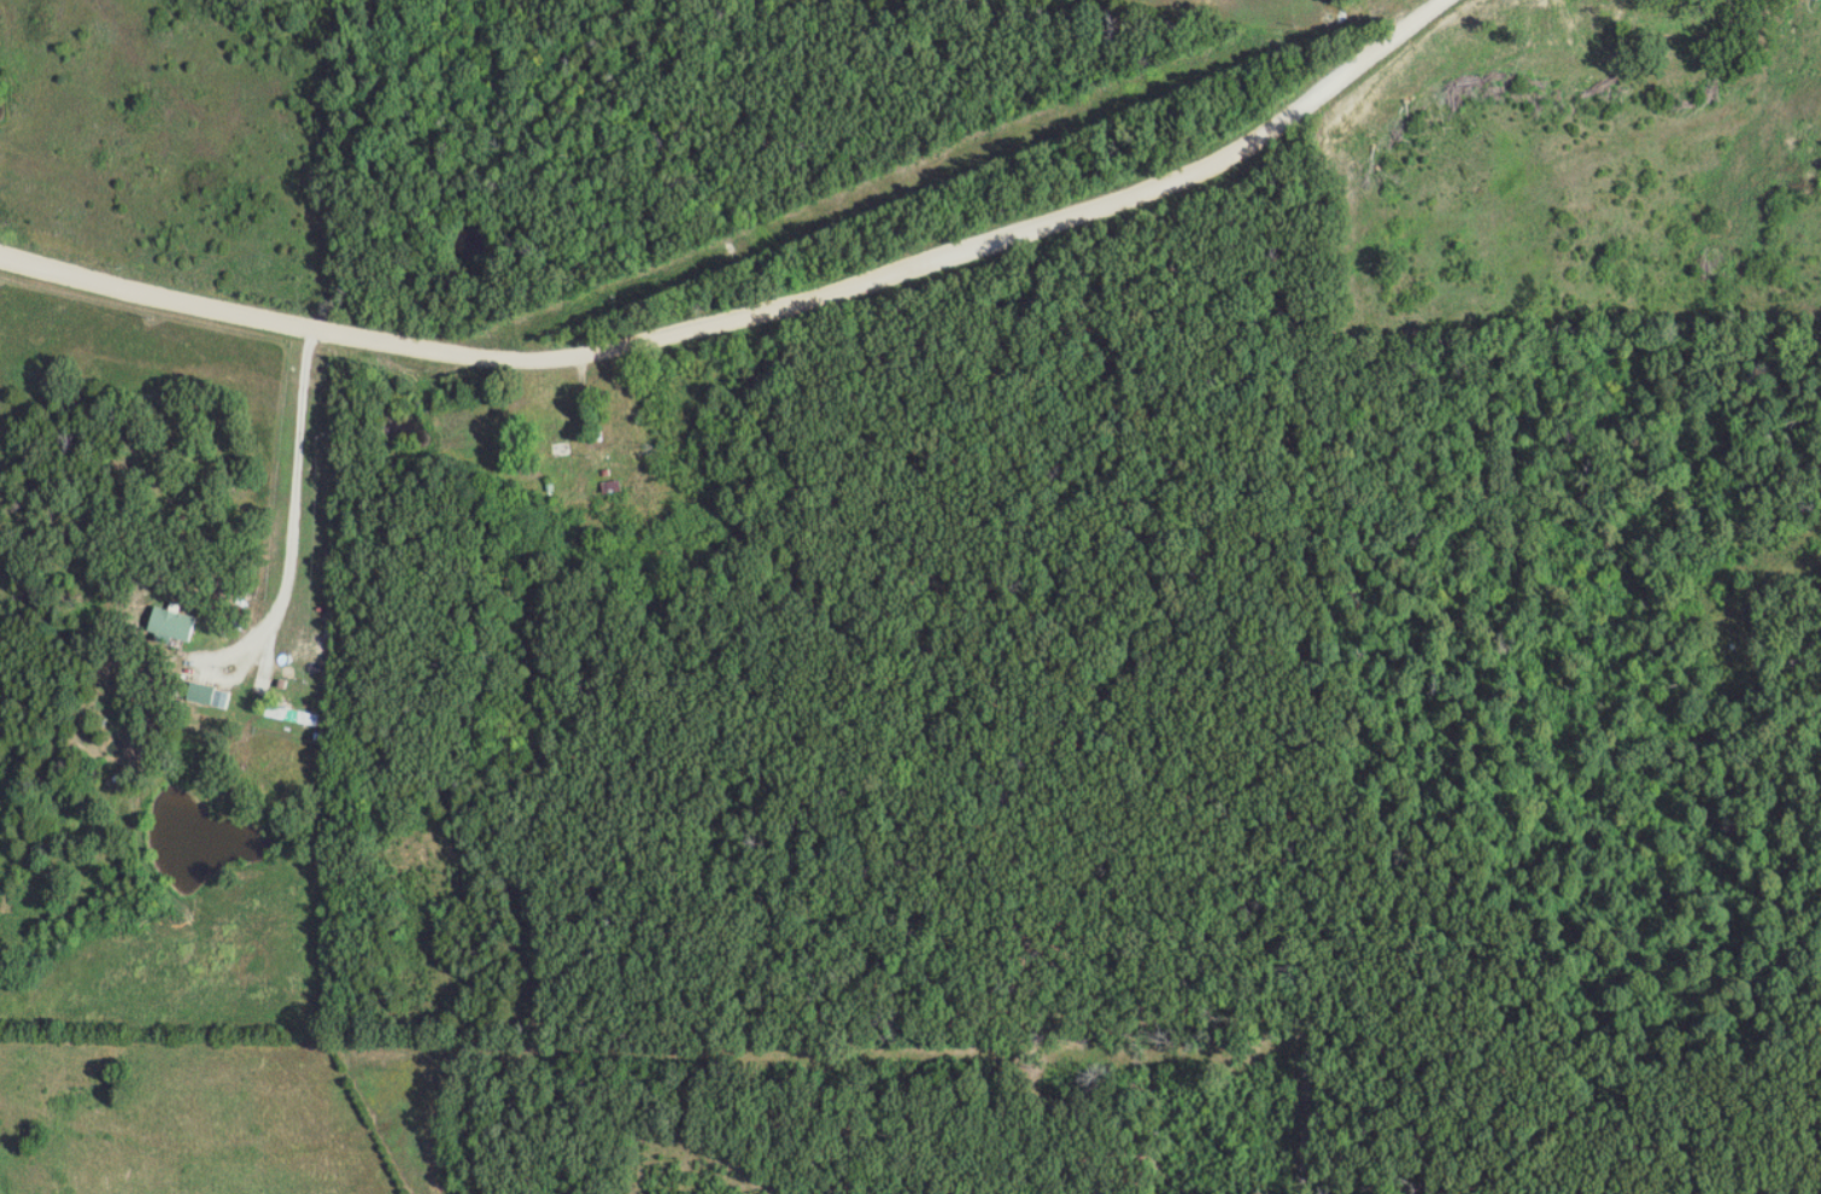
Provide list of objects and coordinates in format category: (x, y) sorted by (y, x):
road: (754, 317)
road: (299, 528)
building: (178, 625)
building: (213, 696)
building: (297, 715)

